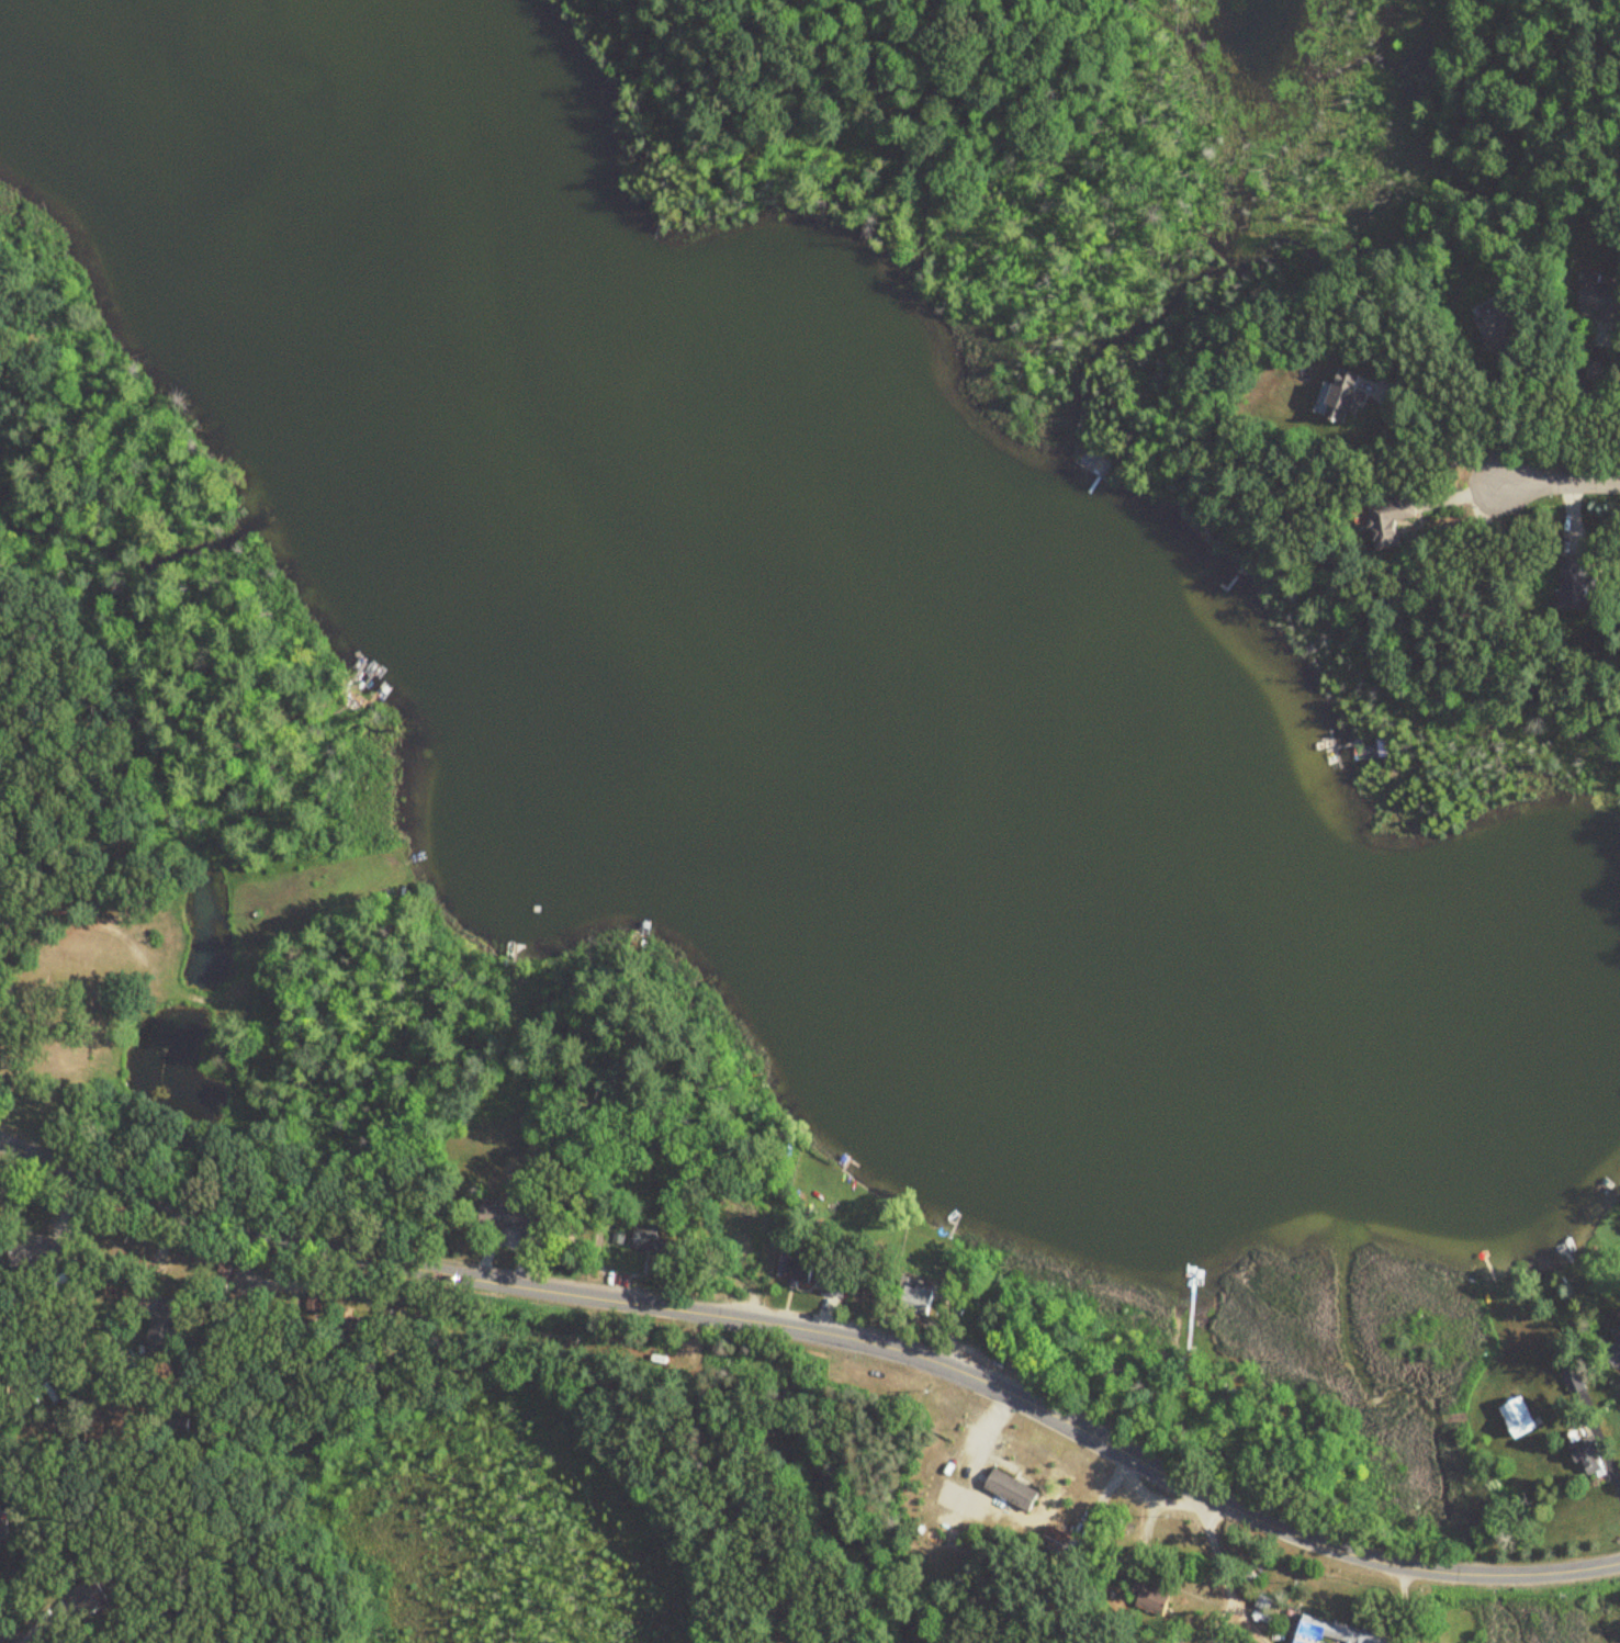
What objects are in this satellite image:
building: (1600, 300)
building: (1500, 324)
road: (1589, 387)
building: (1348, 396)
road: (1431, 437)
road: (1560, 483)
building: (1392, 520)
building: (1579, 581)
building: (99, 907)
building: (519, 1223)
building: (648, 1238)
building: (40, 1252)
building: (760, 1259)
building: (798, 1269)
building: (839, 1282)
building: (919, 1296)
building: (167, 1323)
road: (823, 1329)
building: (1618, 1335)
road: (1610, 1364)
building: (1523, 1418)
building: (1588, 1450)
building: (1013, 1490)
building: (5, 1530)
building: (1060, 1544)
road: (1224, 1575)
building: (91, 1598)
building: (1152, 1598)
road: (1409, 1606)
building: (1338, 1633)

